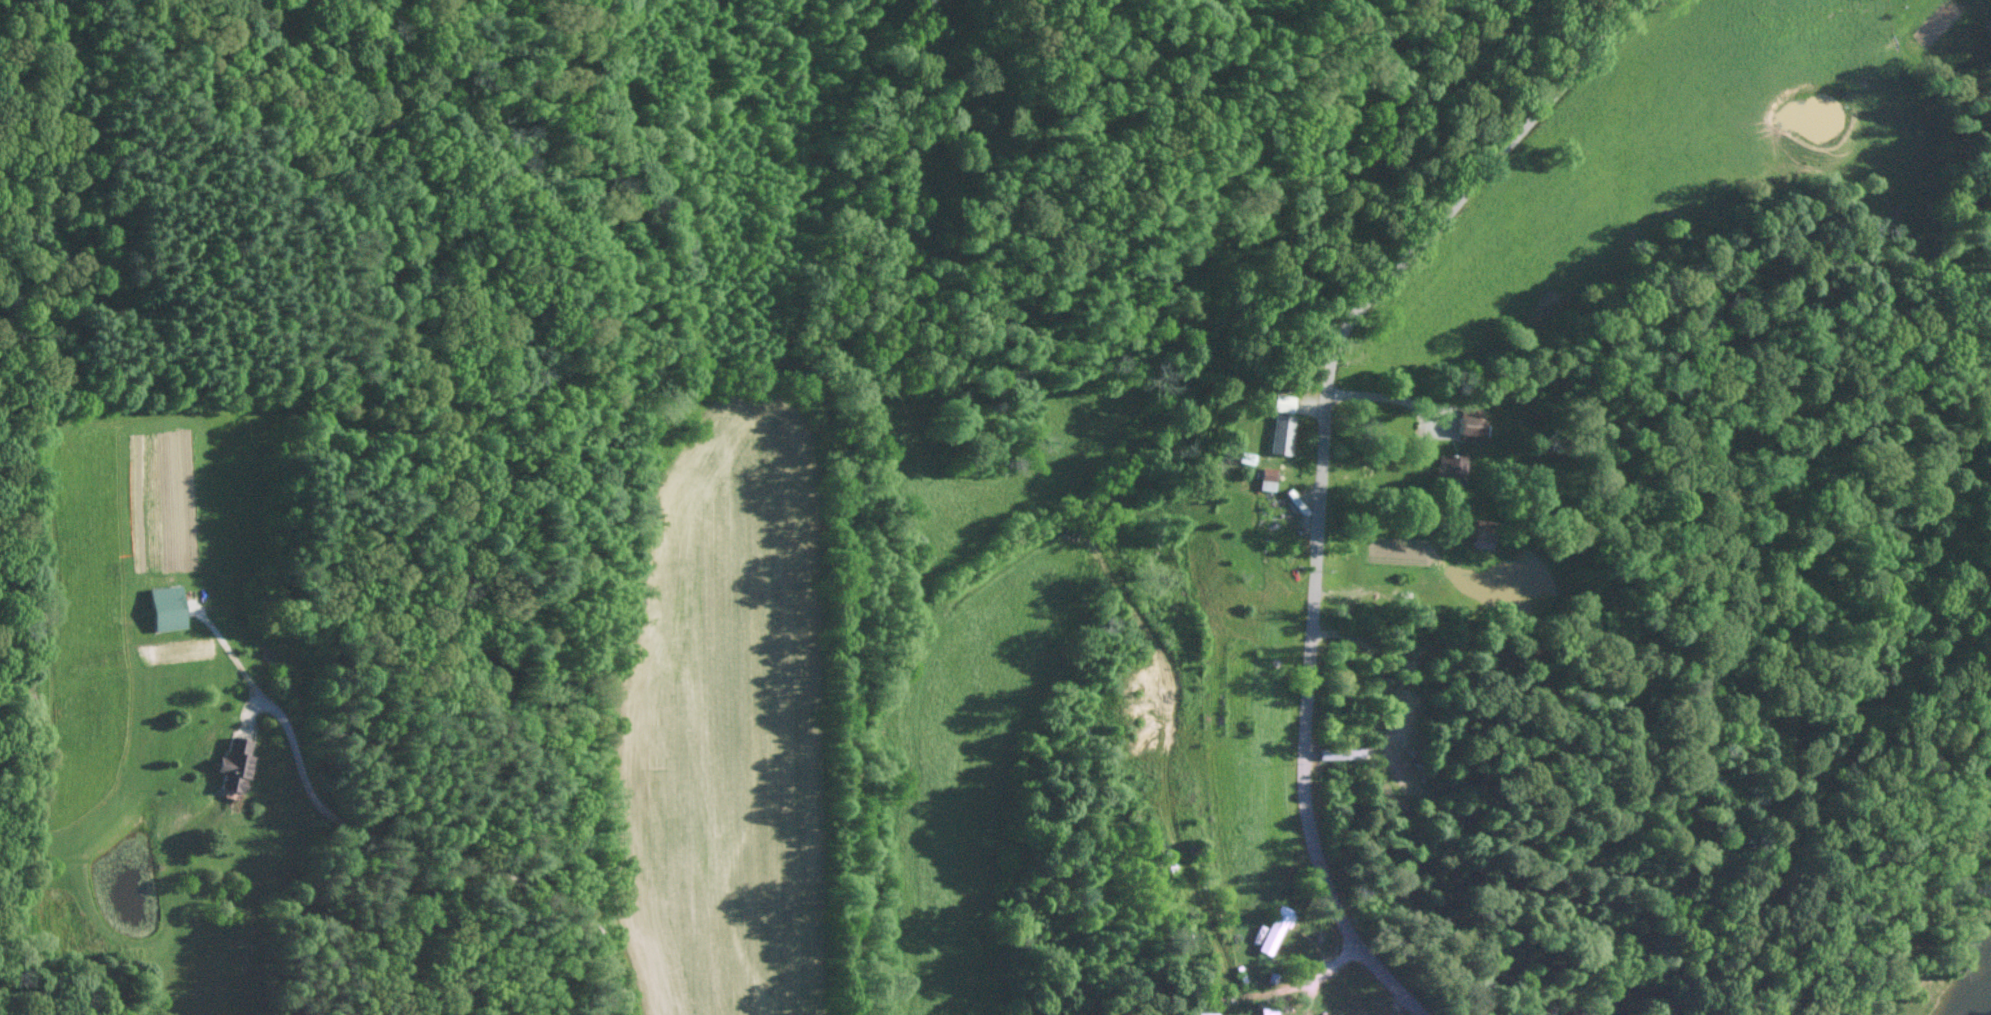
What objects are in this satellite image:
road: (1381, 398)
building: (1281, 403)
building: (1279, 433)
road: (1325, 468)
building: (1448, 470)
building: (1265, 478)
building: (163, 611)
building: (231, 765)
road: (442, 852)
building: (1272, 928)

